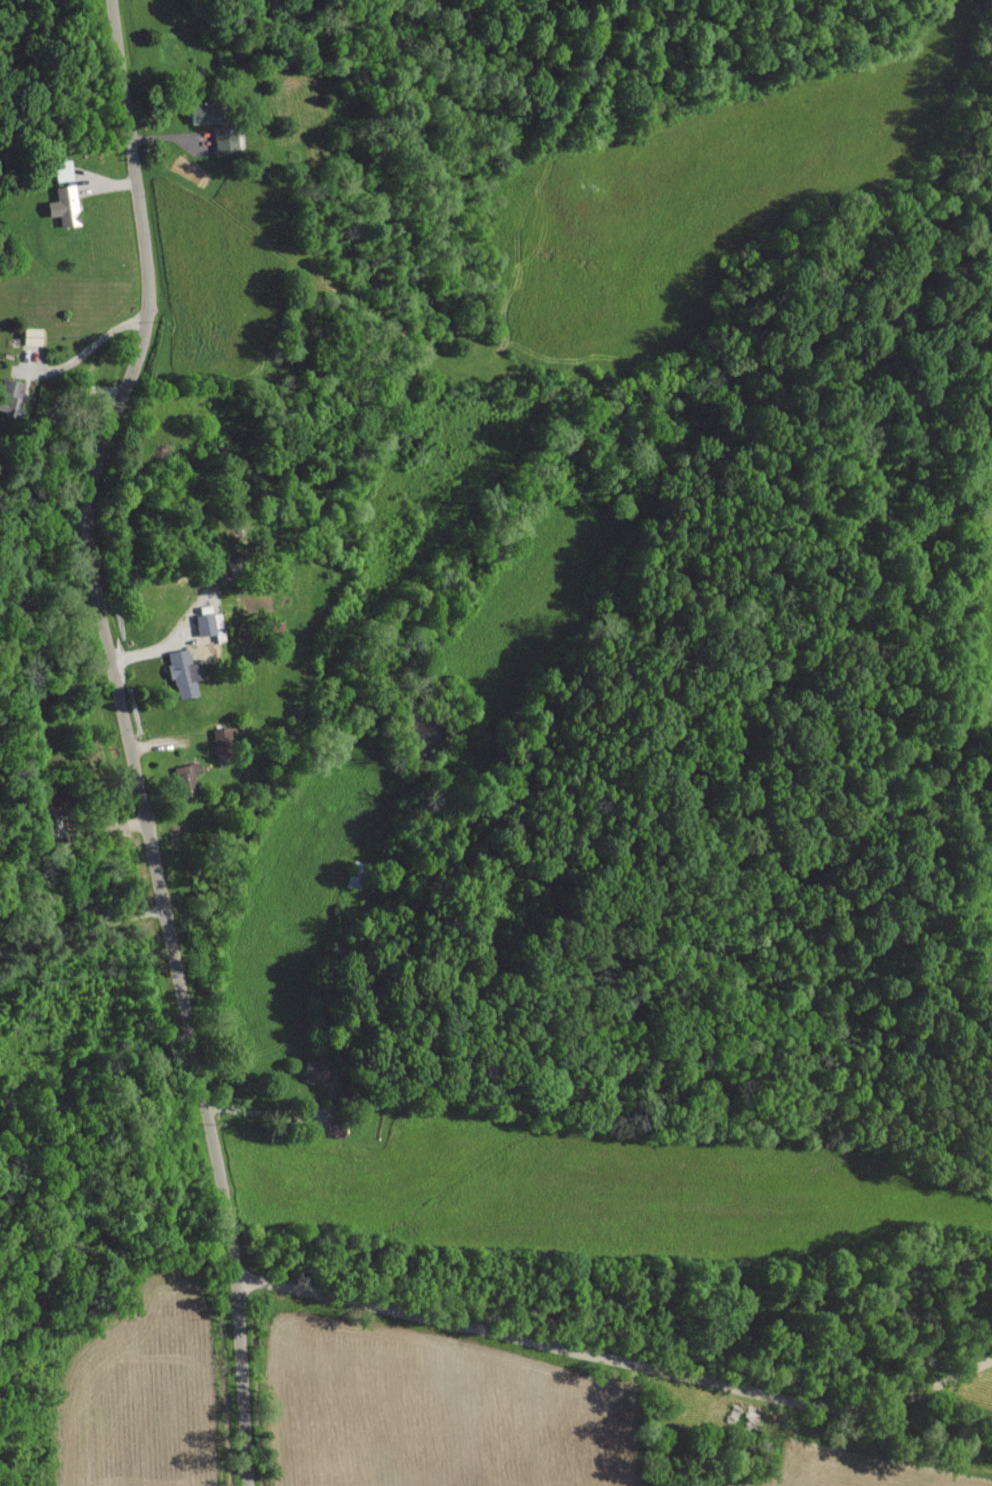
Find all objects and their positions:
building: (206, 111)
building: (225, 139)
building: (65, 205)
building: (32, 335)
road: (89, 345)
building: (12, 397)
road: (49, 417)
building: (210, 624)
building: (183, 672)
road: (127, 739)
building: (222, 741)
building: (186, 778)
building: (315, 1071)
road: (626, 1441)

